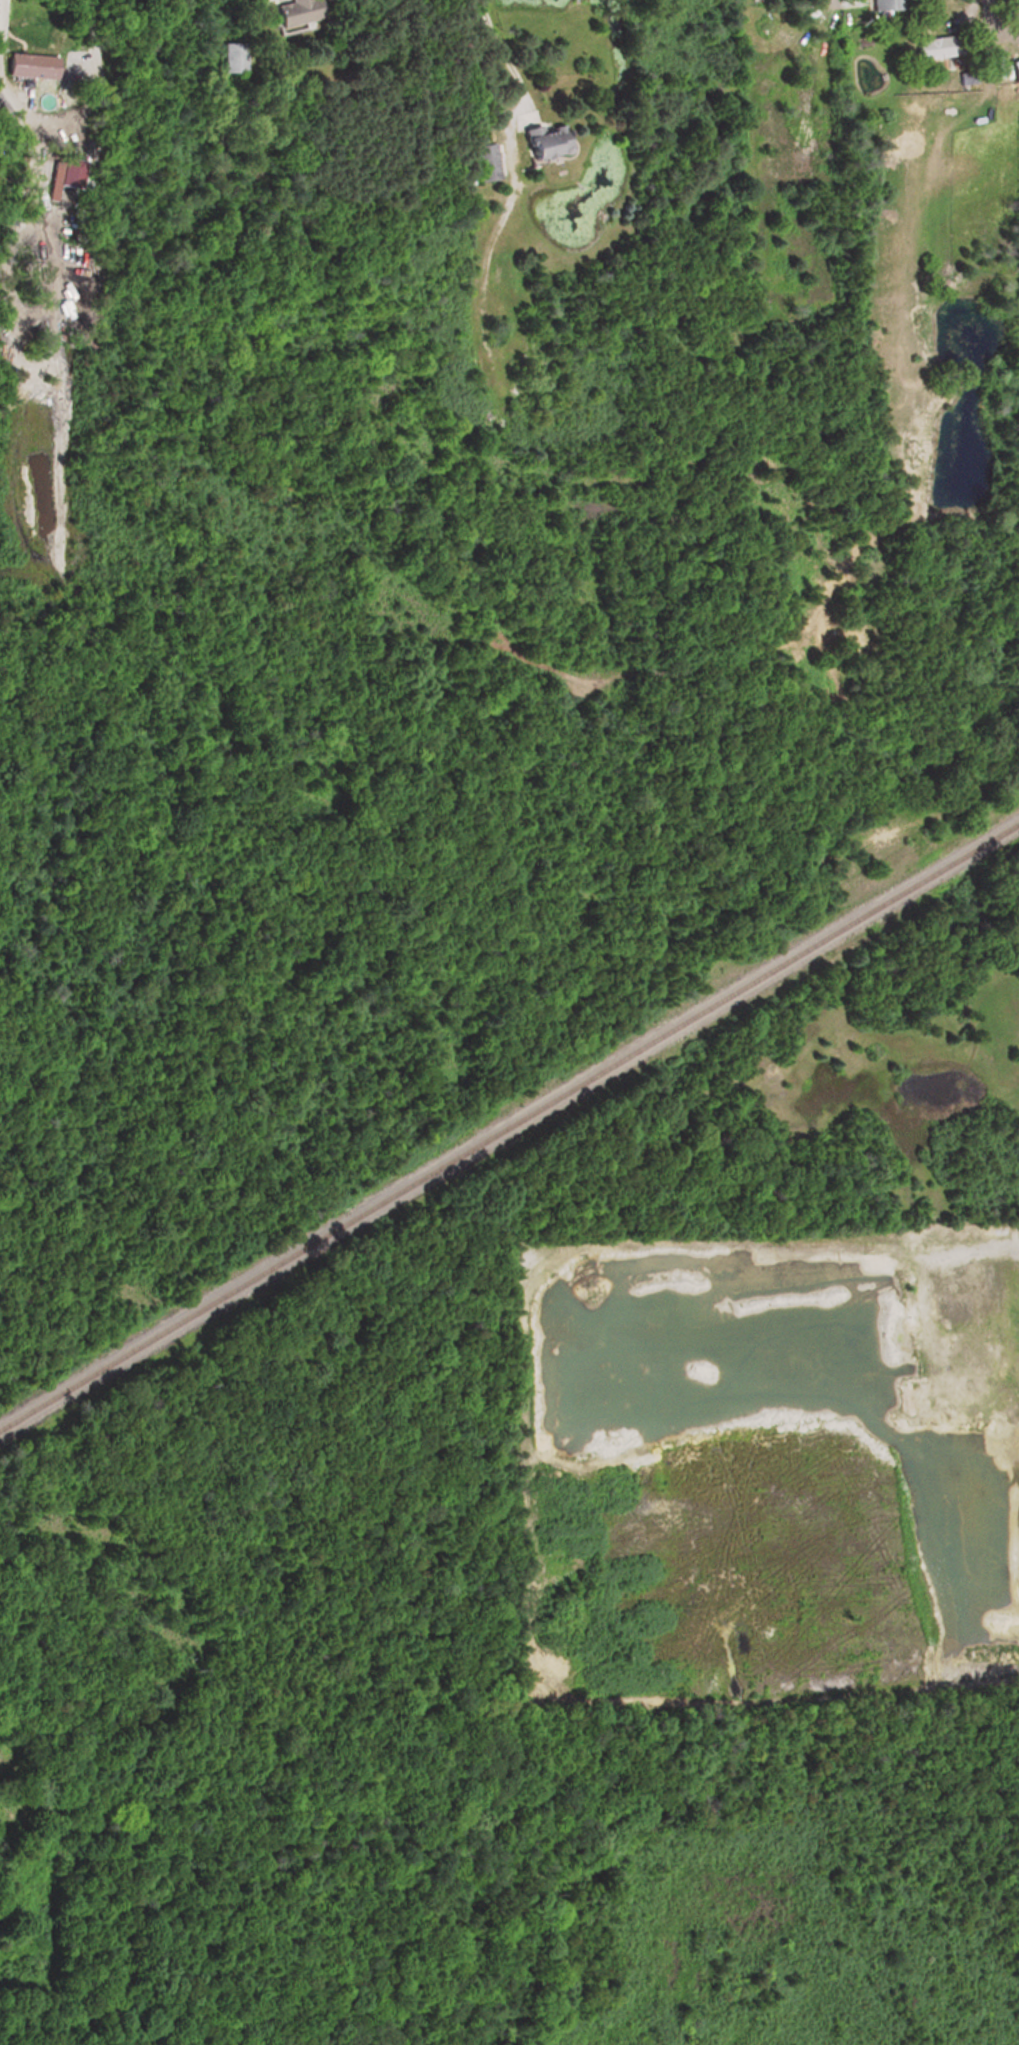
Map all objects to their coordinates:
road: (1017, 1)
building: (884, 5)
building: (296, 12)
road: (997, 25)
building: (933, 47)
building: (236, 57)
building: (32, 66)
building: (1008, 71)
road: (510, 110)
building: (539, 145)
building: (483, 162)
railway: (509, 1127)

